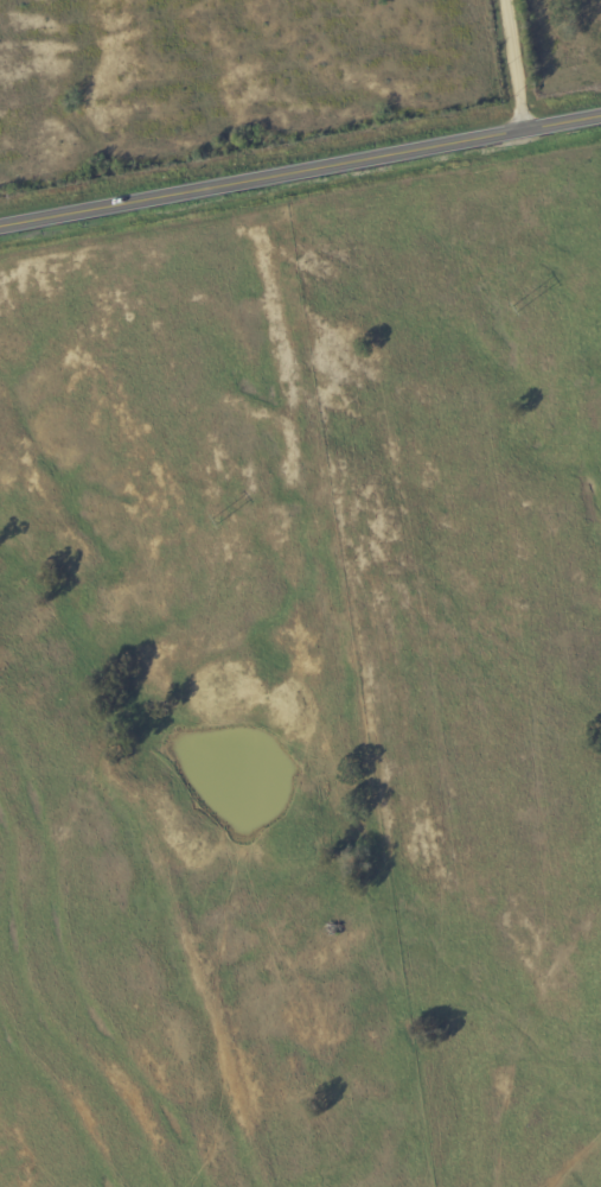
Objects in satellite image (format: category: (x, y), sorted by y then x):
road: (513, 65)
road: (300, 172)
power tower: (514, 309)
power tower: (215, 520)

